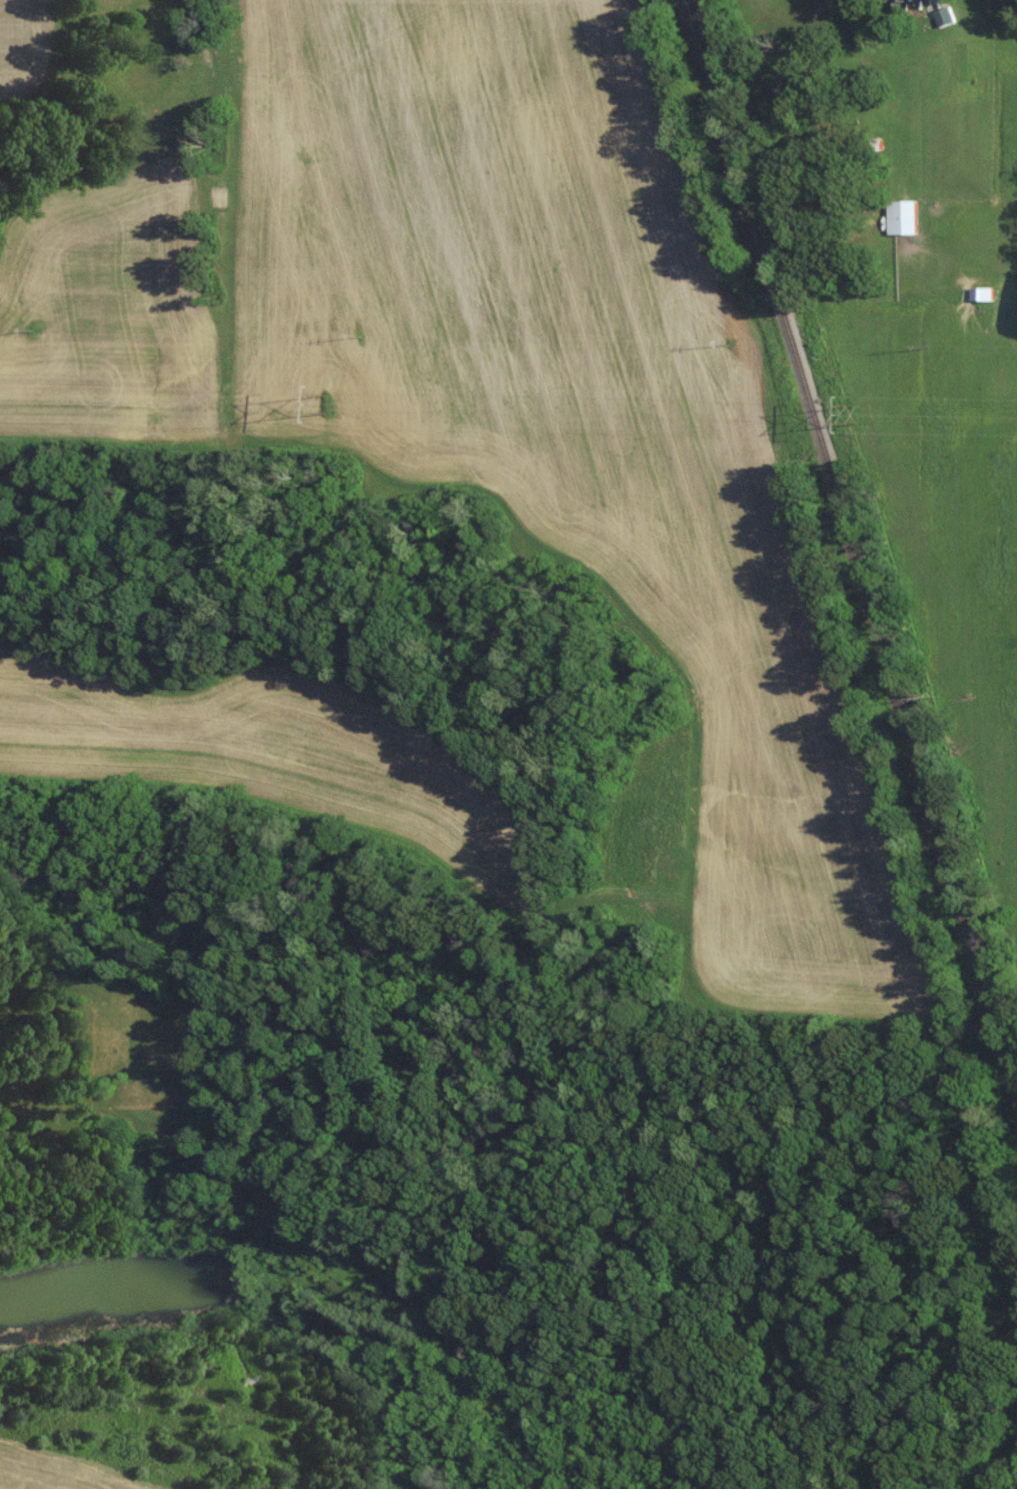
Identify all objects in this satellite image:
building: (898, 1)
building: (942, 16)
building: (900, 216)
building: (979, 292)
power tower: (324, 403)
power tower: (858, 411)
railway: (856, 541)

